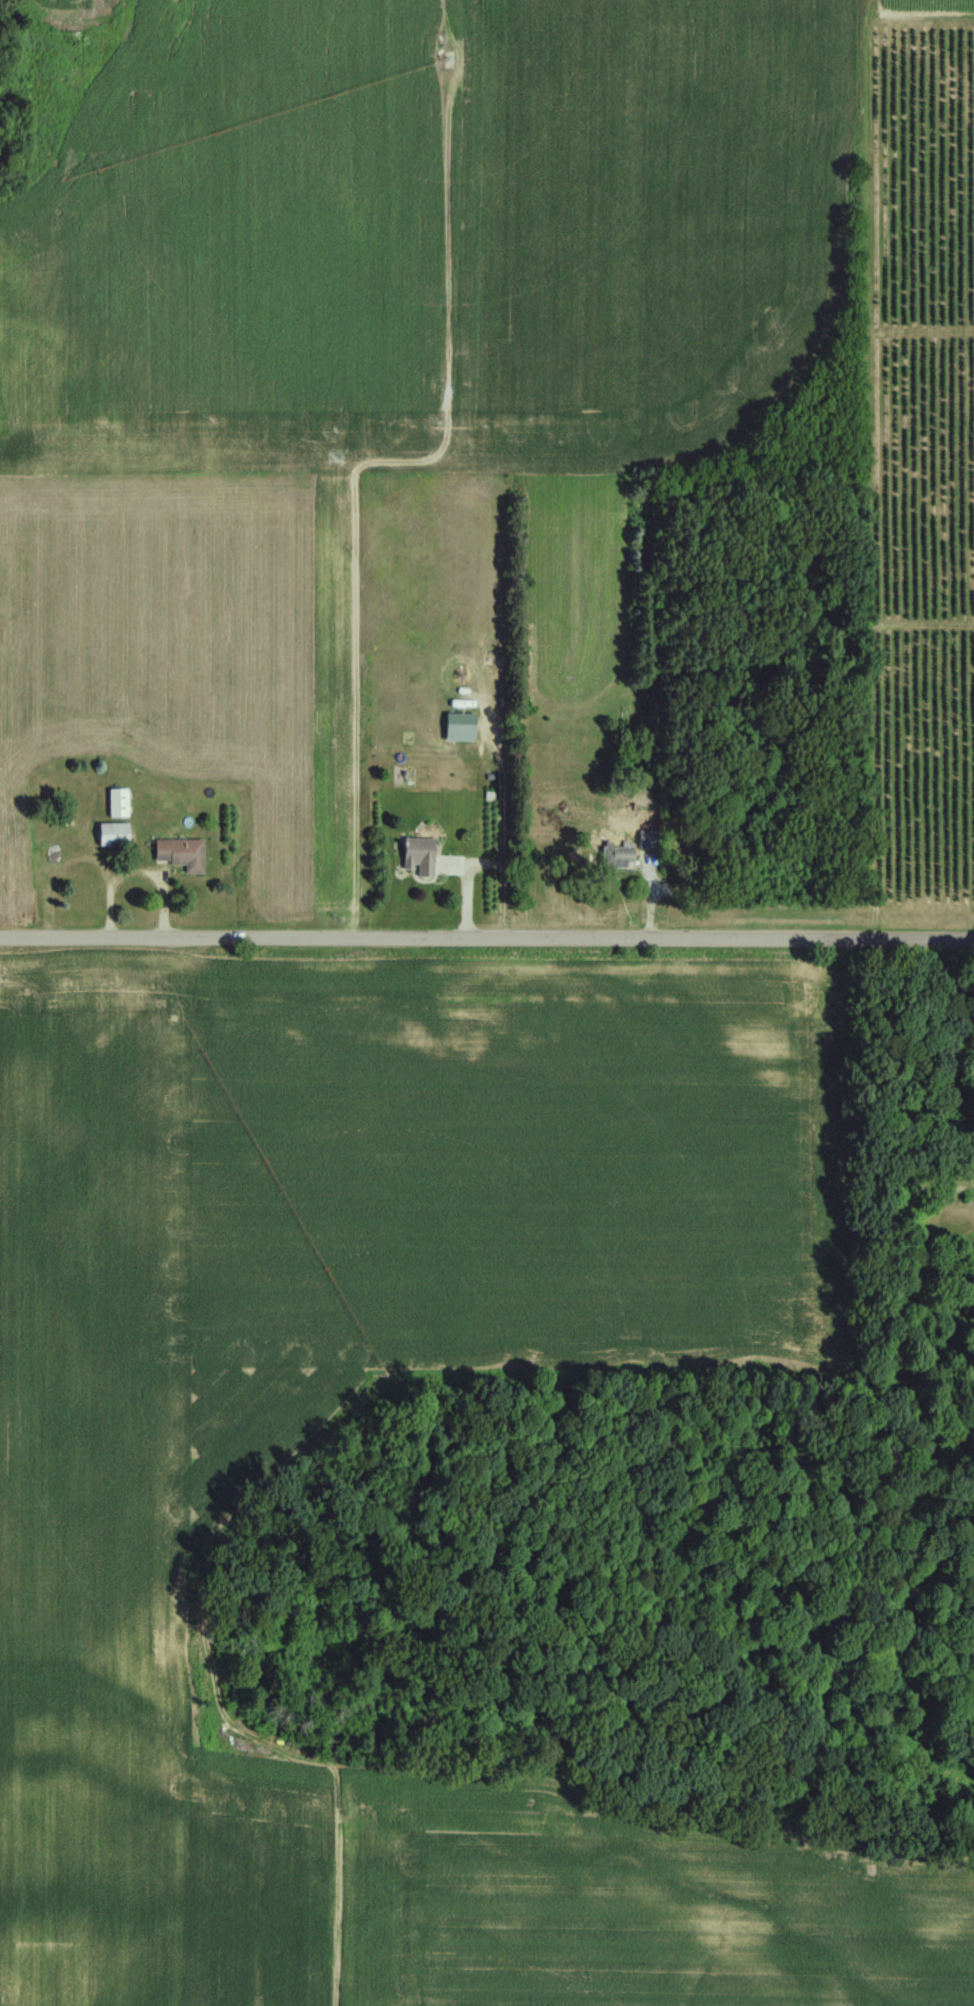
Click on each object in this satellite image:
building: (120, 802)
building: (116, 835)
building: (652, 838)
building: (185, 854)
building: (622, 854)
building: (422, 856)
building: (30, 877)
road: (487, 938)

